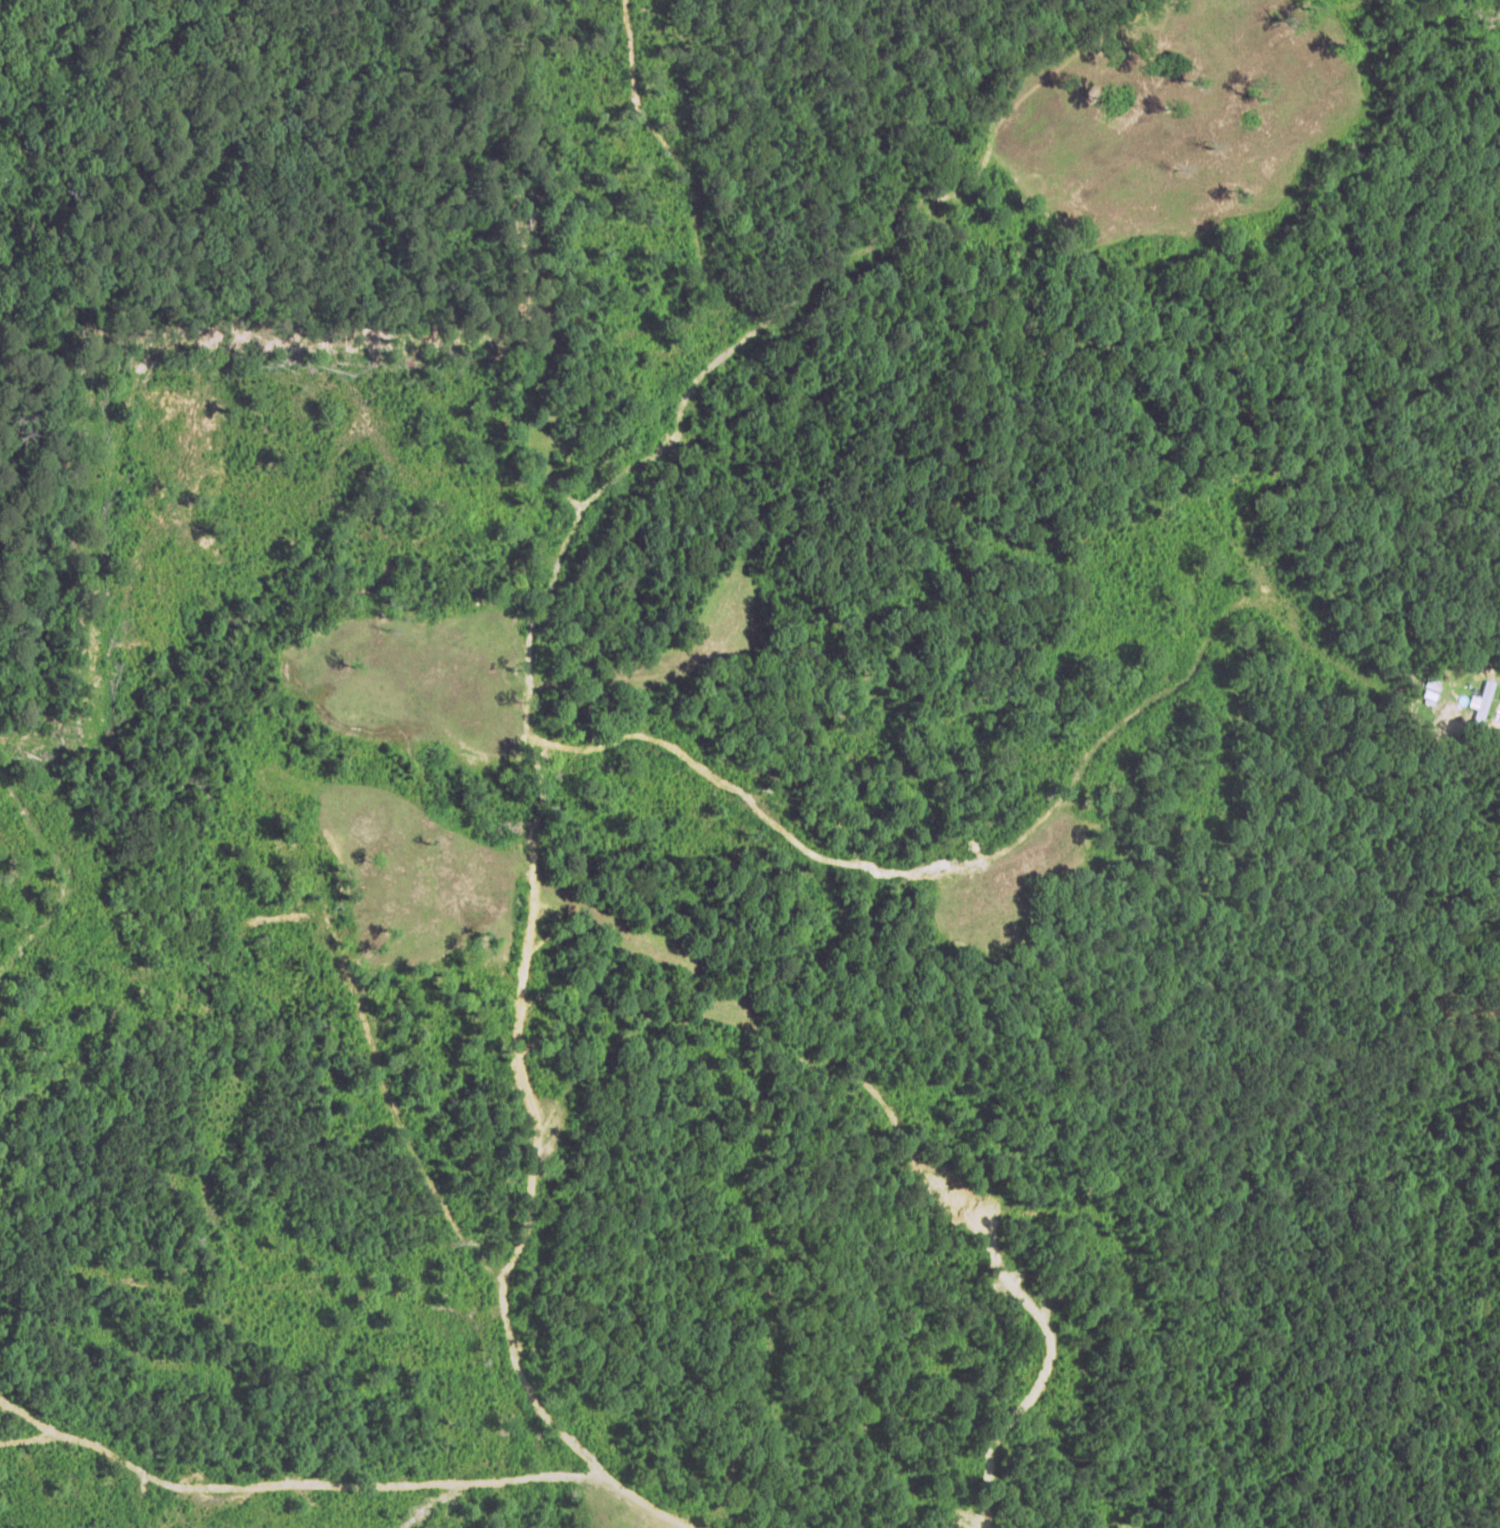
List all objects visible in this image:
road: (353, 1490)

